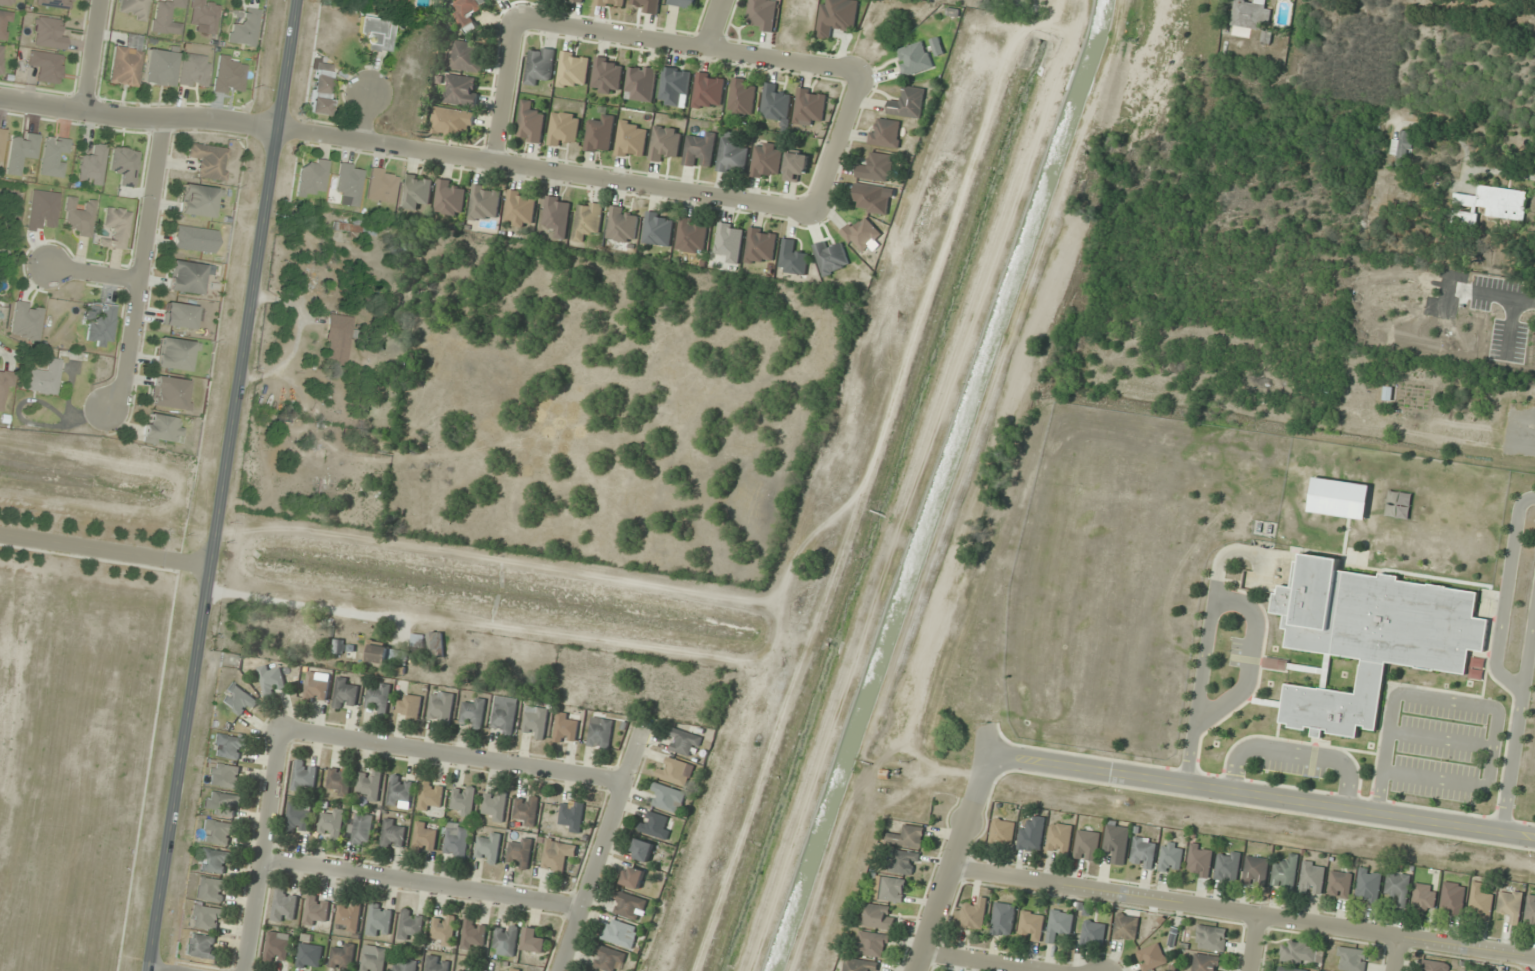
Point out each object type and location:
building: (579, 0)
building: (6, 2)
building: (54, 3)
building: (391, 3)
building: (612, 3)
building: (684, 3)
building: (646, 5)
building: (469, 8)
building: (134, 9)
building: (1250, 13)
building: (763, 14)
building: (204, 15)
building: (838, 16)
building: (167, 17)
building: (4, 25)
road: (714, 25)
building: (245, 28)
building: (376, 33)
building: (49, 34)
road: (687, 47)
building: (1, 56)
road: (91, 56)
building: (468, 56)
building: (915, 58)
building: (540, 65)
building: (46, 67)
building: (125, 67)
building: (160, 68)
building: (574, 70)
building: (194, 71)
building: (607, 76)
building: (641, 83)
building: (674, 87)
building: (321, 90)
building: (462, 90)
road: (506, 91)
building: (708, 91)
building: (742, 97)
building: (909, 102)
building: (775, 104)
building: (810, 107)
road: (365, 118)
building: (454, 121)
building: (531, 122)
building: (564, 129)
building: (885, 132)
building: (601, 134)
building: (632, 140)
building: (1, 143)
building: (665, 143)
road: (837, 143)
building: (1402, 149)
road: (407, 150)
building: (700, 151)
building: (21, 153)
building: (732, 154)
building: (54, 157)
building: (209, 161)
building: (767, 161)
building: (796, 165)
building: (92, 166)
building: (124, 166)
building: (877, 167)
building: (312, 177)
building: (350, 183)
building: (382, 186)
building: (417, 192)
building: (450, 197)
building: (872, 199)
building: (198, 201)
building: (485, 203)
building: (1489, 205)
building: (520, 209)
building: (557, 215)
building: (79, 218)
building: (588, 220)
building: (623, 224)
building: (116, 228)
building: (354, 228)
building: (659, 229)
building: (861, 234)
building: (692, 235)
building: (194, 240)
building: (729, 242)
building: (761, 246)
building: (2, 255)
building: (794, 258)
building: (832, 258)
road: (143, 268)
road: (96, 274)
building: (185, 277)
building: (179, 316)
building: (26, 321)
building: (99, 325)
building: (337, 341)
building: (174, 355)
building: (43, 379)
building: (3, 389)
building: (170, 393)
building: (162, 430)
building: (310, 455)
road: (222, 485)
building: (1340, 498)
building: (1399, 504)
road: (105, 549)
road: (1501, 630)
road: (1210, 636)
building: (1371, 636)
building: (436, 644)
building: (339, 646)
building: (384, 655)
road: (1251, 659)
building: (1277, 664)
building: (1478, 668)
building: (272, 679)
building: (317, 687)
building: (346, 694)
road: (1424, 696)
building: (238, 699)
building: (379, 699)
building: (409, 707)
building: (441, 707)
building: (473, 714)
building: (504, 715)
building: (535, 722)
building: (566, 728)
building: (601, 733)
road: (1441, 738)
building: (684, 743)
building: (229, 747)
road: (1296, 751)
road: (453, 755)
road: (1514, 761)
building: (675, 771)
building: (226, 776)
building: (305, 777)
road: (1436, 778)
building: (340, 781)
building: (369, 785)
building: (401, 791)
building: (432, 796)
road: (1263, 797)
building: (667, 798)
building: (465, 800)
building: (222, 804)
building: (494, 806)
building: (526, 810)
building: (572, 815)
building: (332, 824)
building: (655, 825)
building: (364, 829)
building: (219, 832)
building: (1003, 833)
building: (393, 835)
building: (1032, 835)
building: (907, 837)
building: (424, 838)
building: (1059, 838)
building: (457, 842)
building: (1117, 843)
building: (1087, 845)
road: (602, 846)
building: (489, 848)
road: (265, 849)
building: (642, 850)
building: (520, 853)
building: (1144, 853)
building: (557, 855)
building: (1171, 859)
building: (1200, 860)
road: (951, 861)
building: (904, 862)
building: (1228, 866)
building: (1256, 871)
building: (1285, 872)
building: (633, 877)
building: (1312, 878)
building: (1340, 884)
road: (422, 885)
building: (1369, 885)
building: (1398, 888)
building: (213, 889)
building: (889, 889)
building: (1424, 897)
building: (1453, 899)
building: (1480, 903)
building: (628, 905)
building: (1511, 905)
building: (285, 906)
road: (1241, 912)
building: (1530, 912)
building: (349, 916)
building: (877, 916)
building: (974, 916)
building: (207, 917)
building: (1004, 919)
building: (380, 920)
building: (411, 925)
building: (1059, 925)
building: (1031, 926)
building: (1126, 928)
building: (444, 930)
building: (620, 933)
building: (1094, 934)
building: (474, 935)
building: (1211, 938)
building: (506, 940)
building: (534, 941)
road: (1251, 942)
building: (872, 944)
building: (202, 946)
building: (279, 947)
building: (1302, 953)
road: (1397, 953)
building: (310, 956)
building: (343, 957)
building: (1151, 957)
building: (608, 958)
road: (990, 959)
building: (1352, 959)
building: (375, 961)
building: (1207, 963)
building: (405, 964)
building: (437, 964)
building: (858, 965)
building: (1435, 966)
building: (515, 969)
building: (1289, 969)
building: (461, 970)

